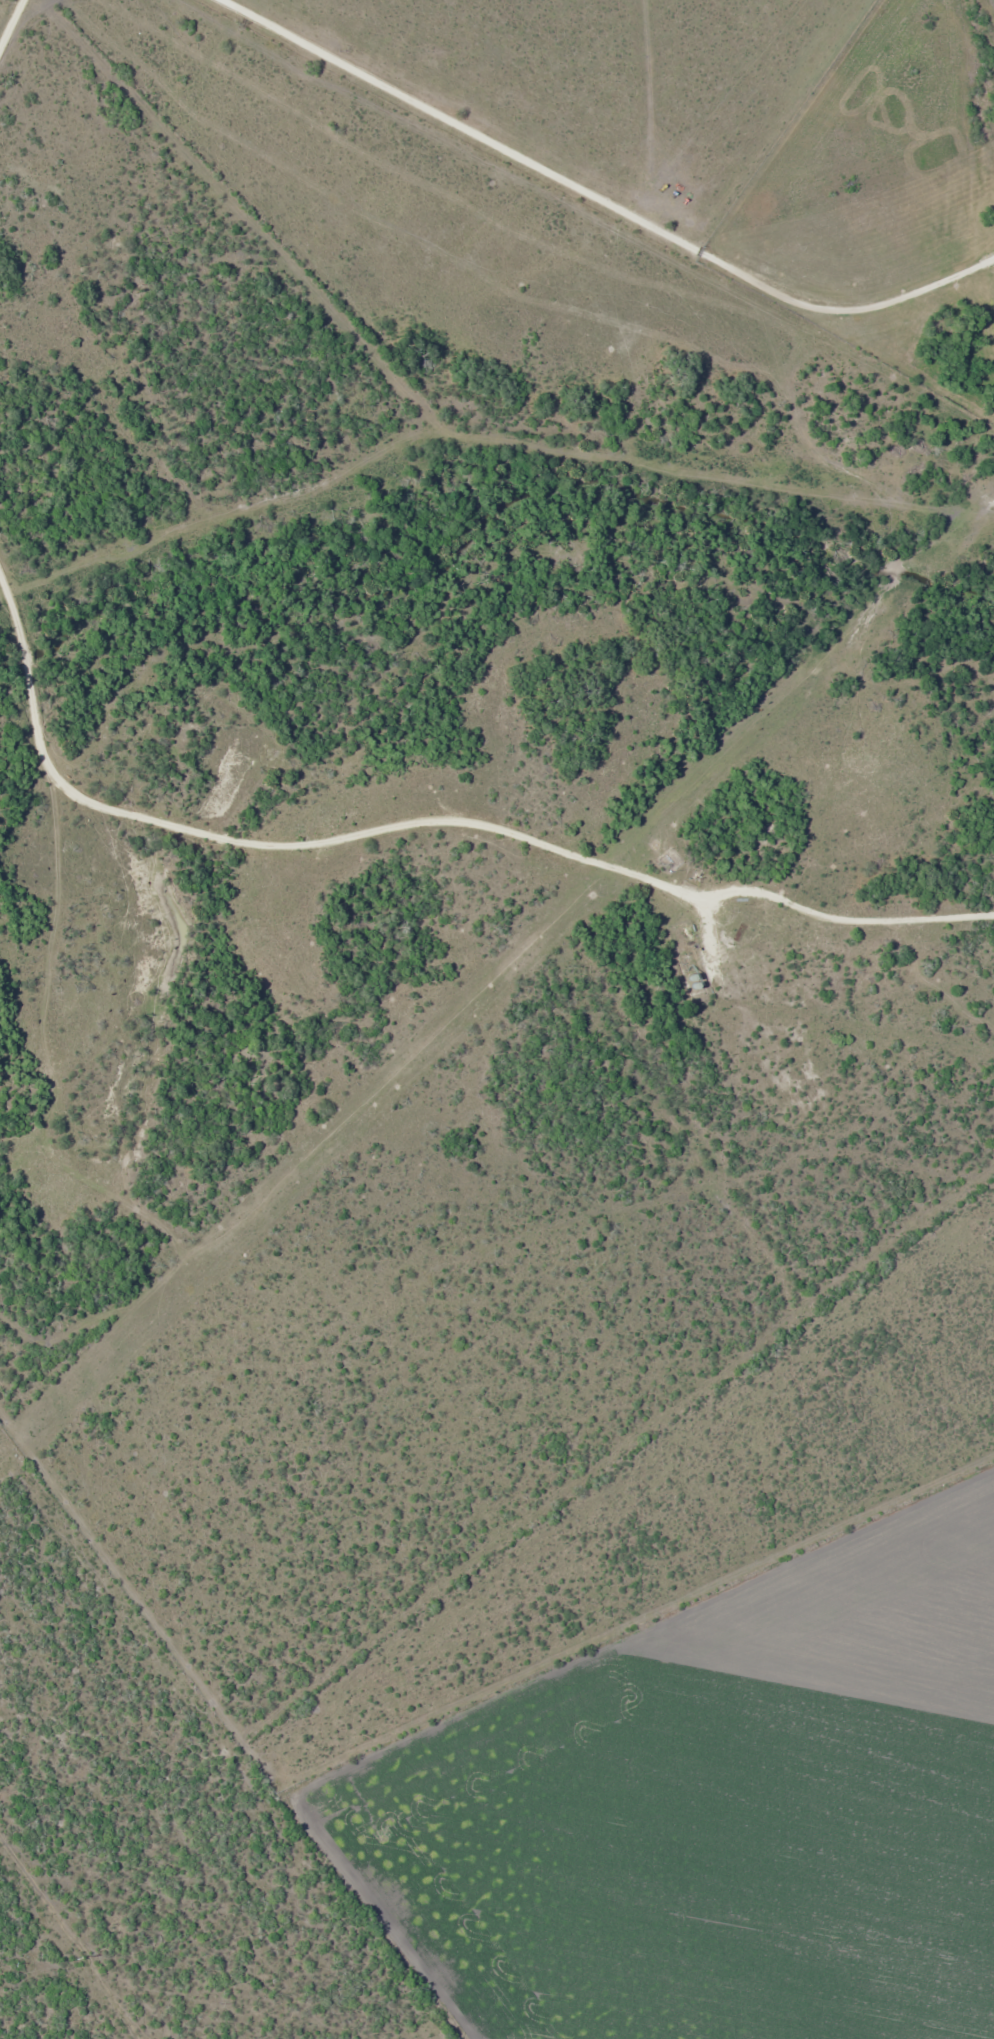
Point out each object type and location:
road: (11, 22)
road: (597, 207)
road: (427, 819)

